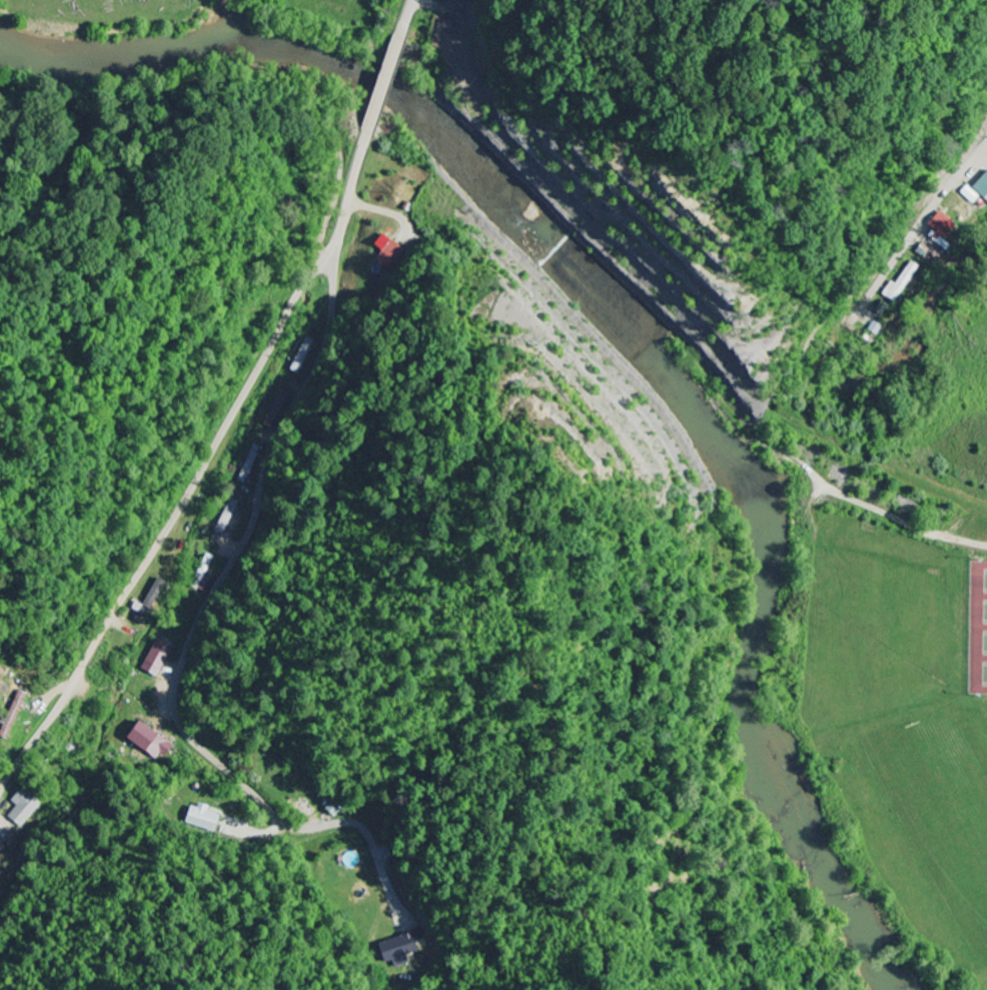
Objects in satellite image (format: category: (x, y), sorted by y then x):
river: (240, 18)
road: (404, 18)
road: (384, 85)
building: (977, 188)
building: (940, 224)
road: (916, 237)
building: (391, 255)
building: (899, 283)
river: (639, 323)
road: (200, 473)
road: (254, 514)
building: (161, 659)
building: (152, 742)
building: (25, 808)
road: (265, 814)
building: (201, 818)
building: (397, 950)

